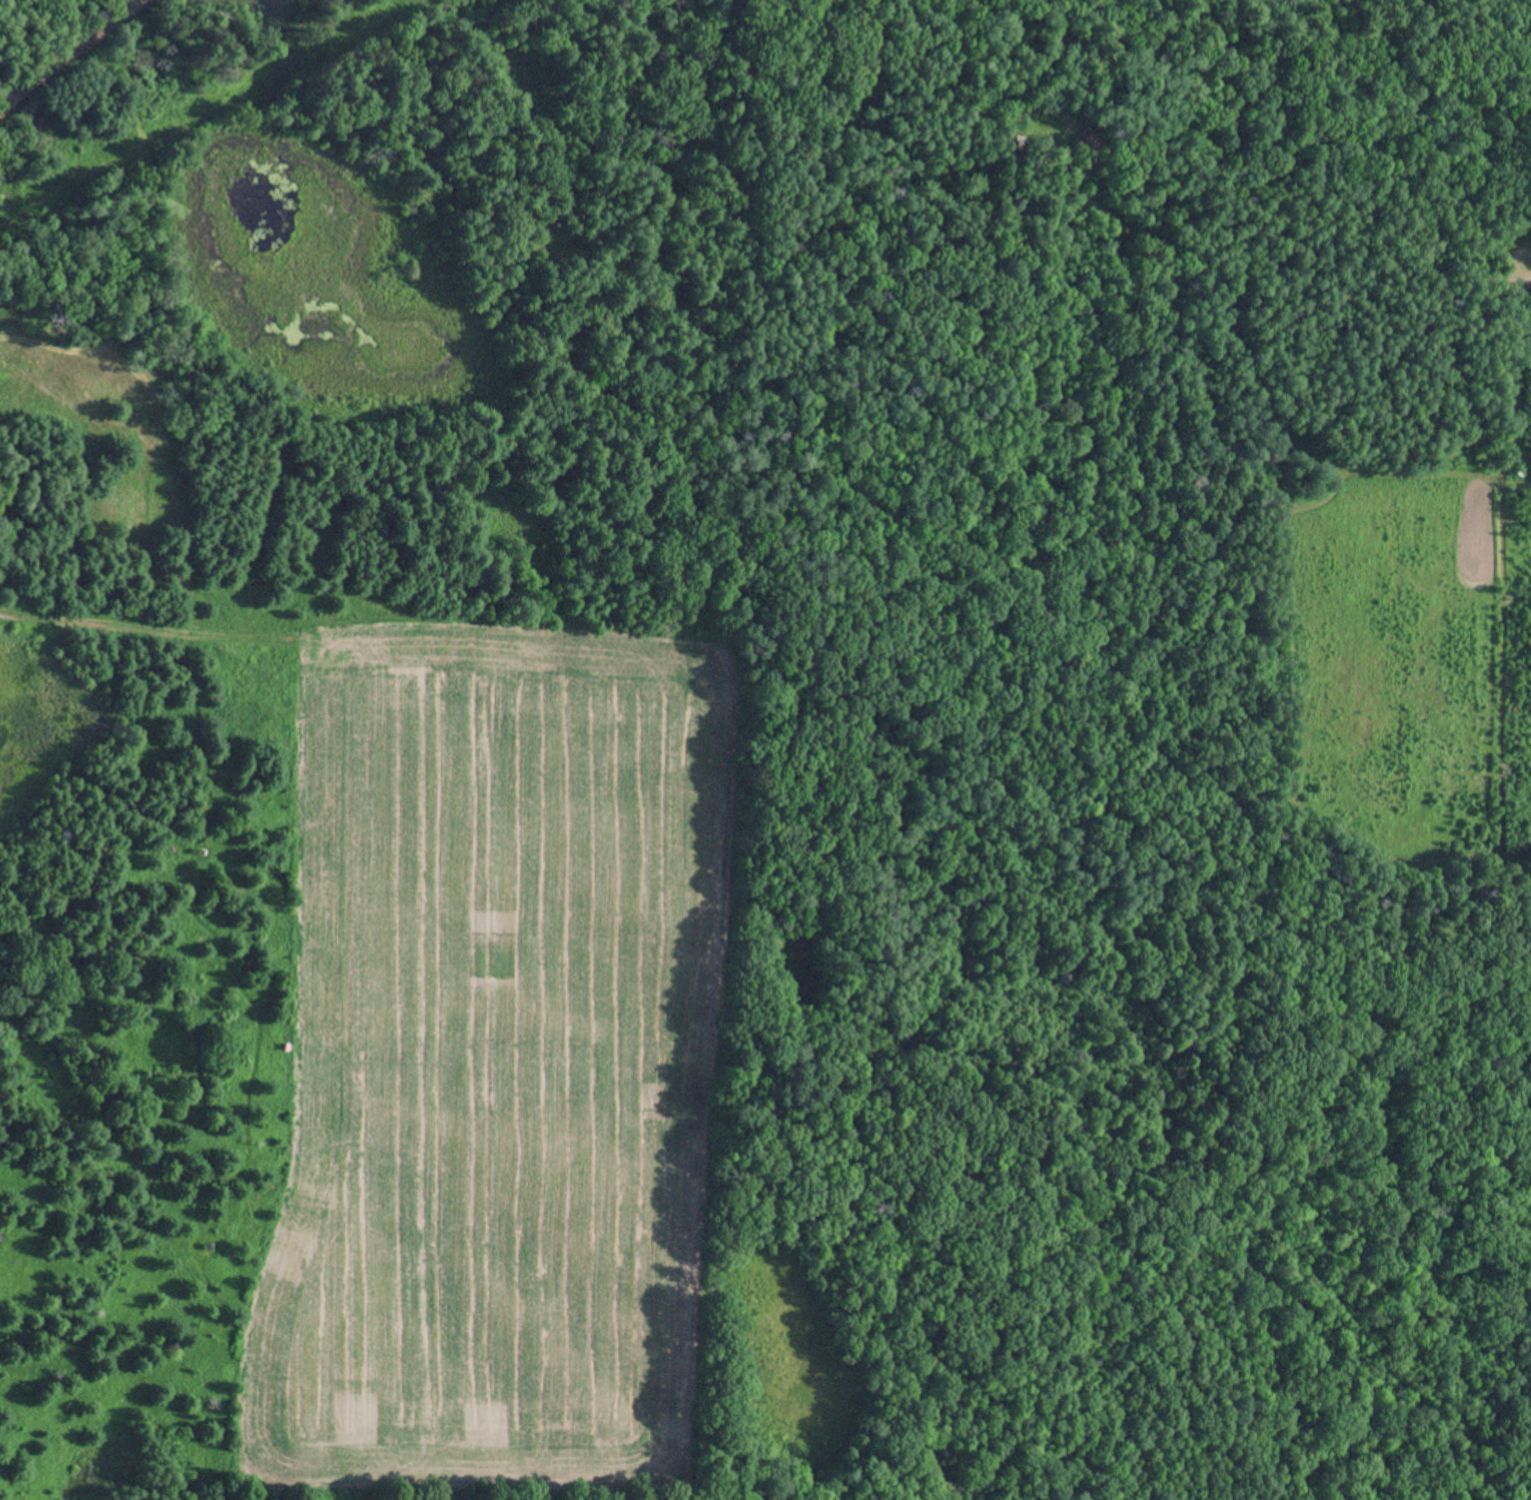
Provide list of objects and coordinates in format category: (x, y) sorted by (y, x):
road: (130, 70)
building: (1091, 148)
building: (1099, 190)

